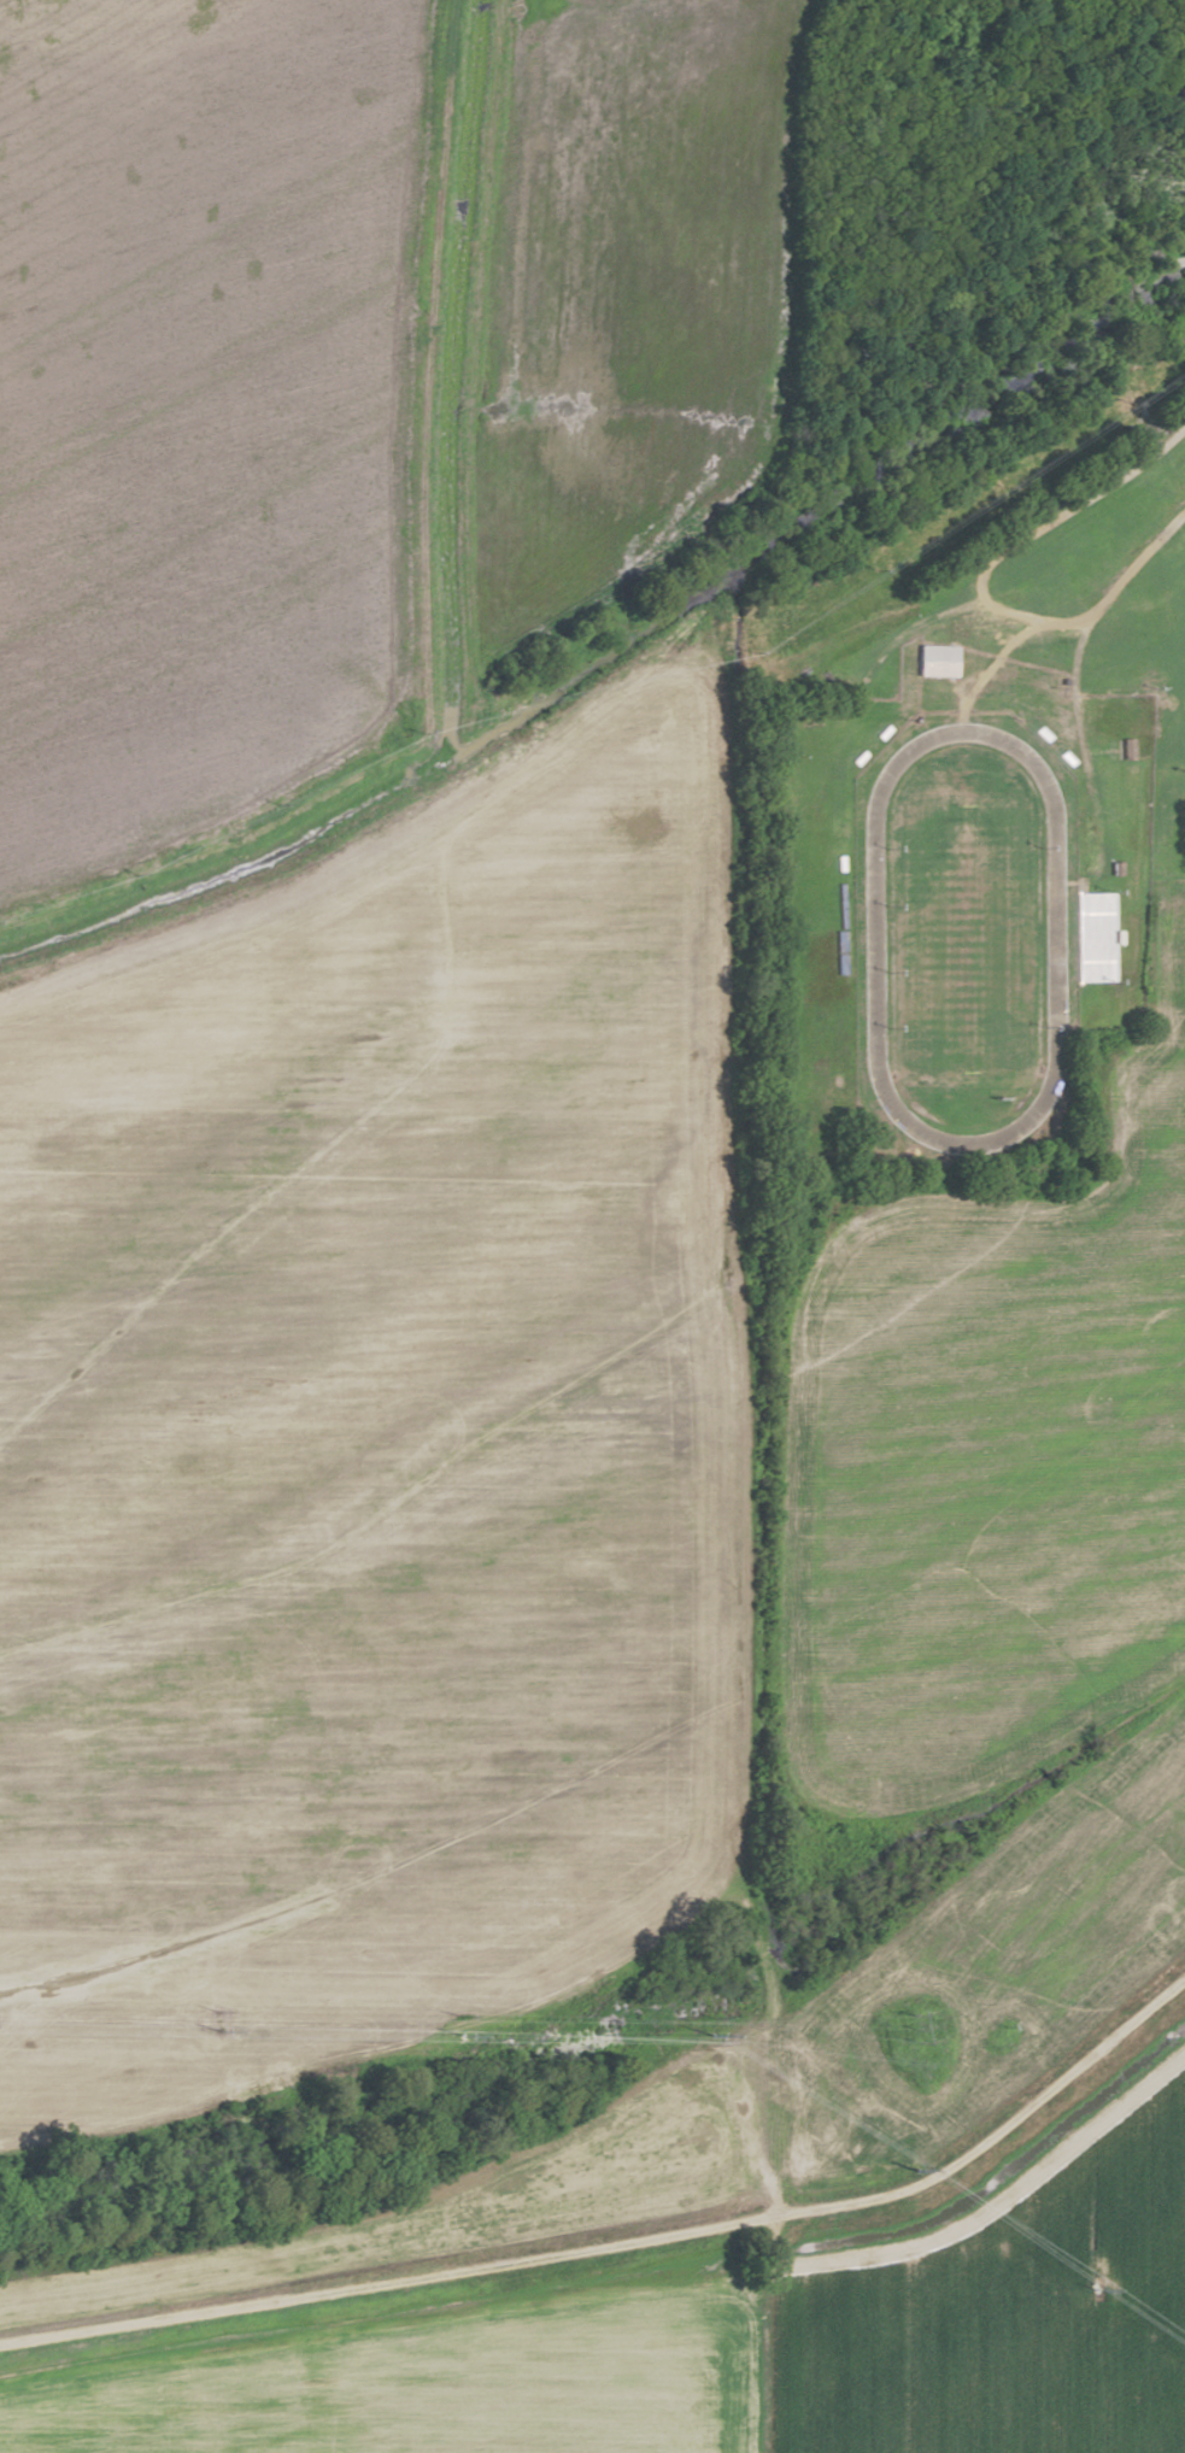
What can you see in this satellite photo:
road: (1073, 500)
road: (1098, 605)
building: (935, 661)
building: (1126, 749)
building: (1092, 915)
park: (964, 938)
track: (964, 939)
road: (628, 2244)

